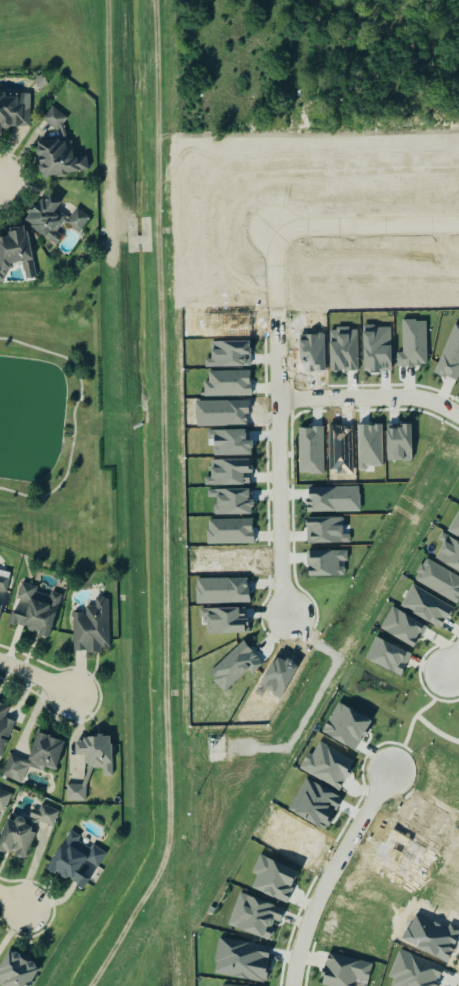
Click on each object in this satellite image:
building: (12, 112)
building: (55, 150)
road: (1, 181)
building: (52, 220)
building: (14, 251)
road: (277, 335)
road: (370, 398)
road: (73, 419)
building: (448, 553)
building: (438, 580)
building: (2, 585)
building: (426, 606)
building: (0, 608)
building: (32, 610)
building: (402, 627)
building: (89, 629)
building: (387, 656)
road: (451, 658)
road: (38, 676)
building: (345, 726)
building: (3, 728)
building: (44, 754)
building: (94, 754)
building: (74, 794)
building: (2, 799)
building: (23, 831)
building: (73, 860)
road: (326, 878)
road: (14, 899)
building: (254, 916)
building: (15, 971)
building: (344, 971)

